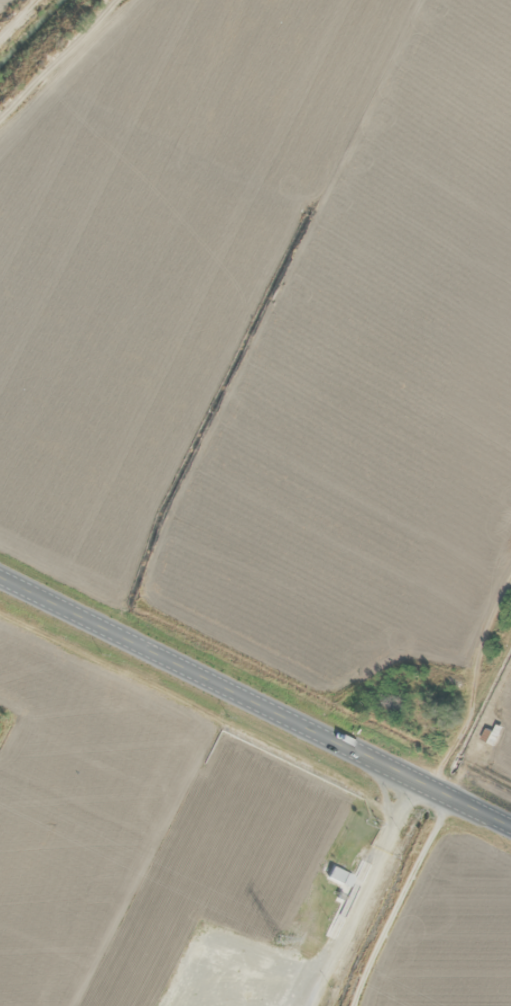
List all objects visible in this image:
road: (255, 704)
power tower: (281, 940)

